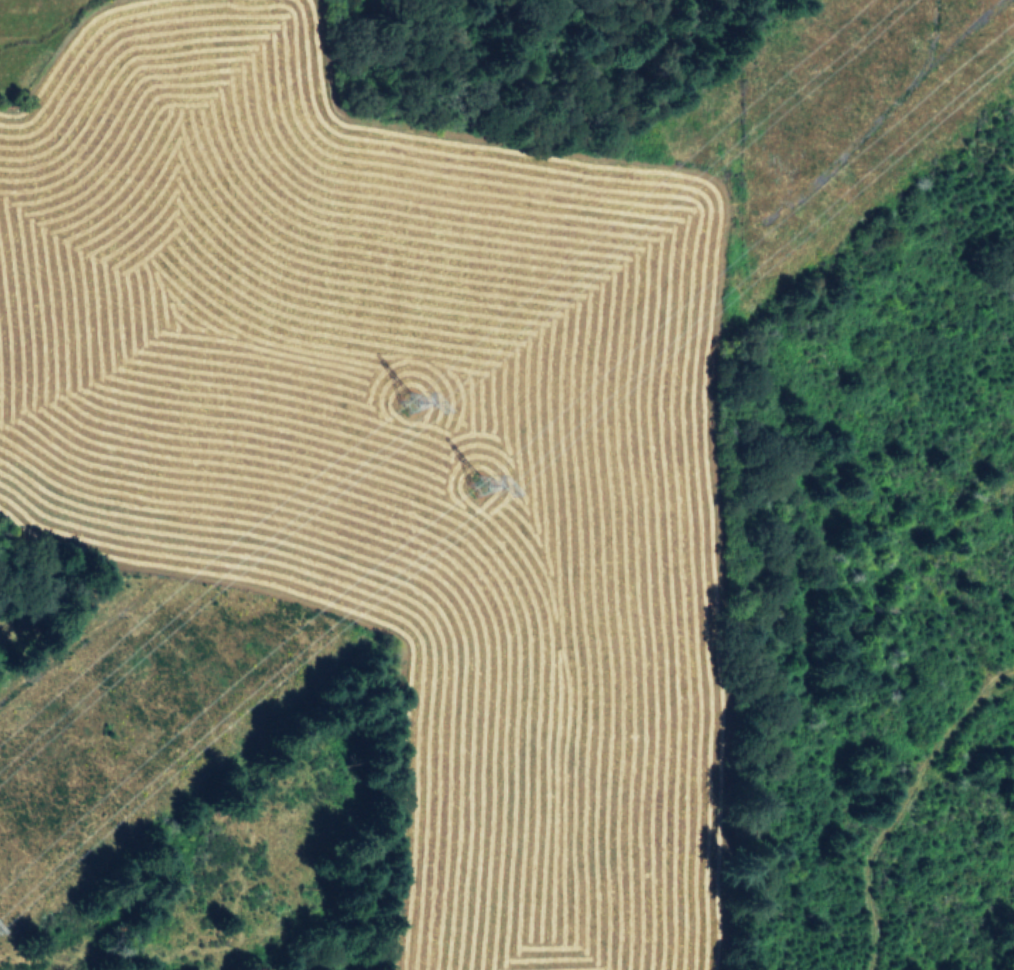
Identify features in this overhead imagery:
crop: (222, 249)
power tower: (414, 398)
power tower: (482, 484)
road: (901, 803)

